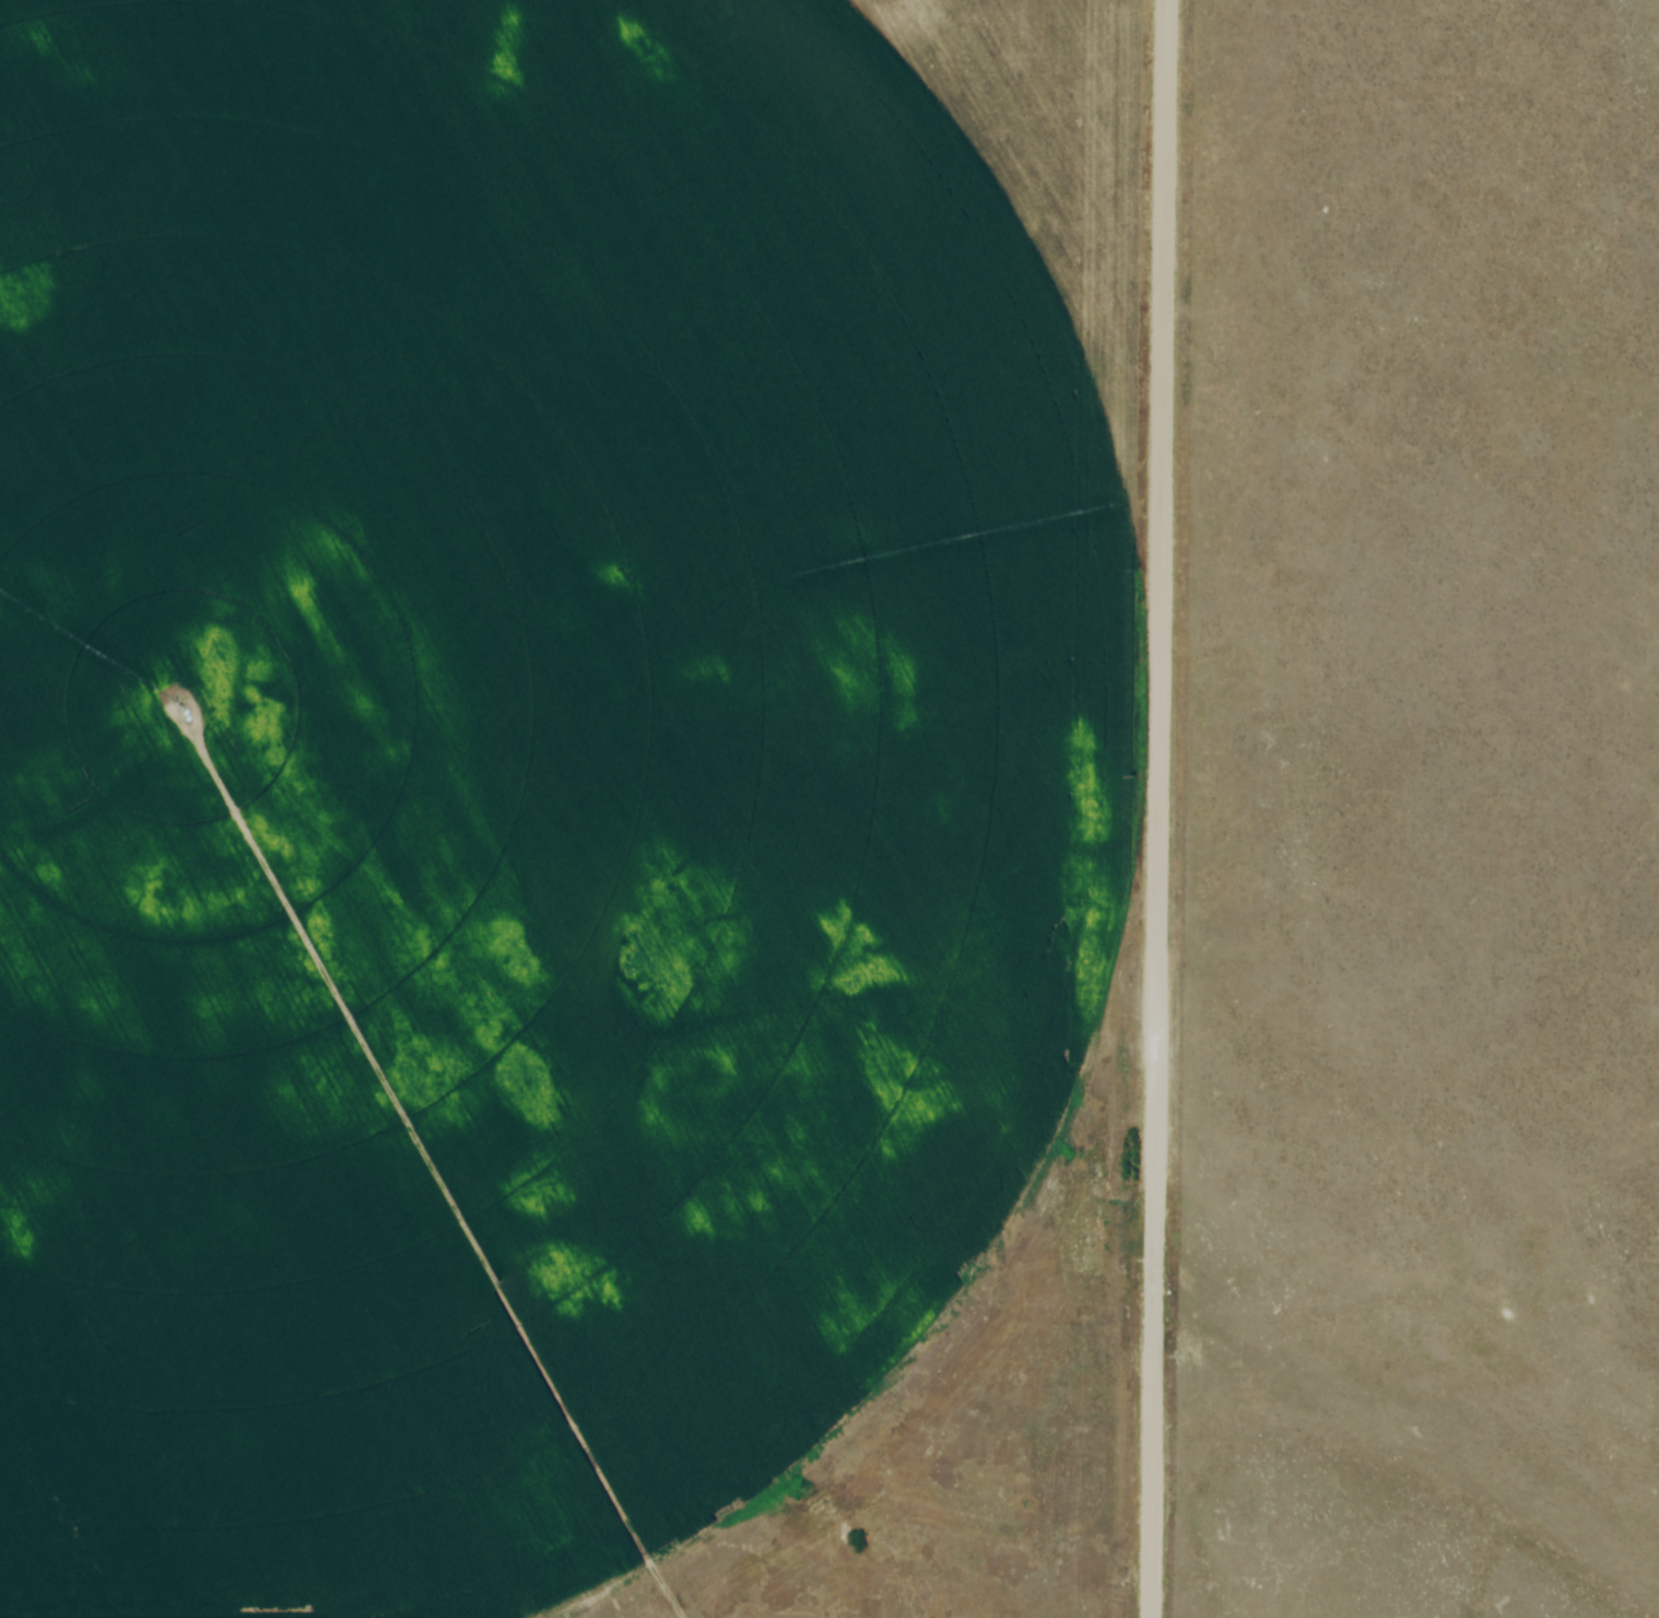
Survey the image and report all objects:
road: (1160, 809)

